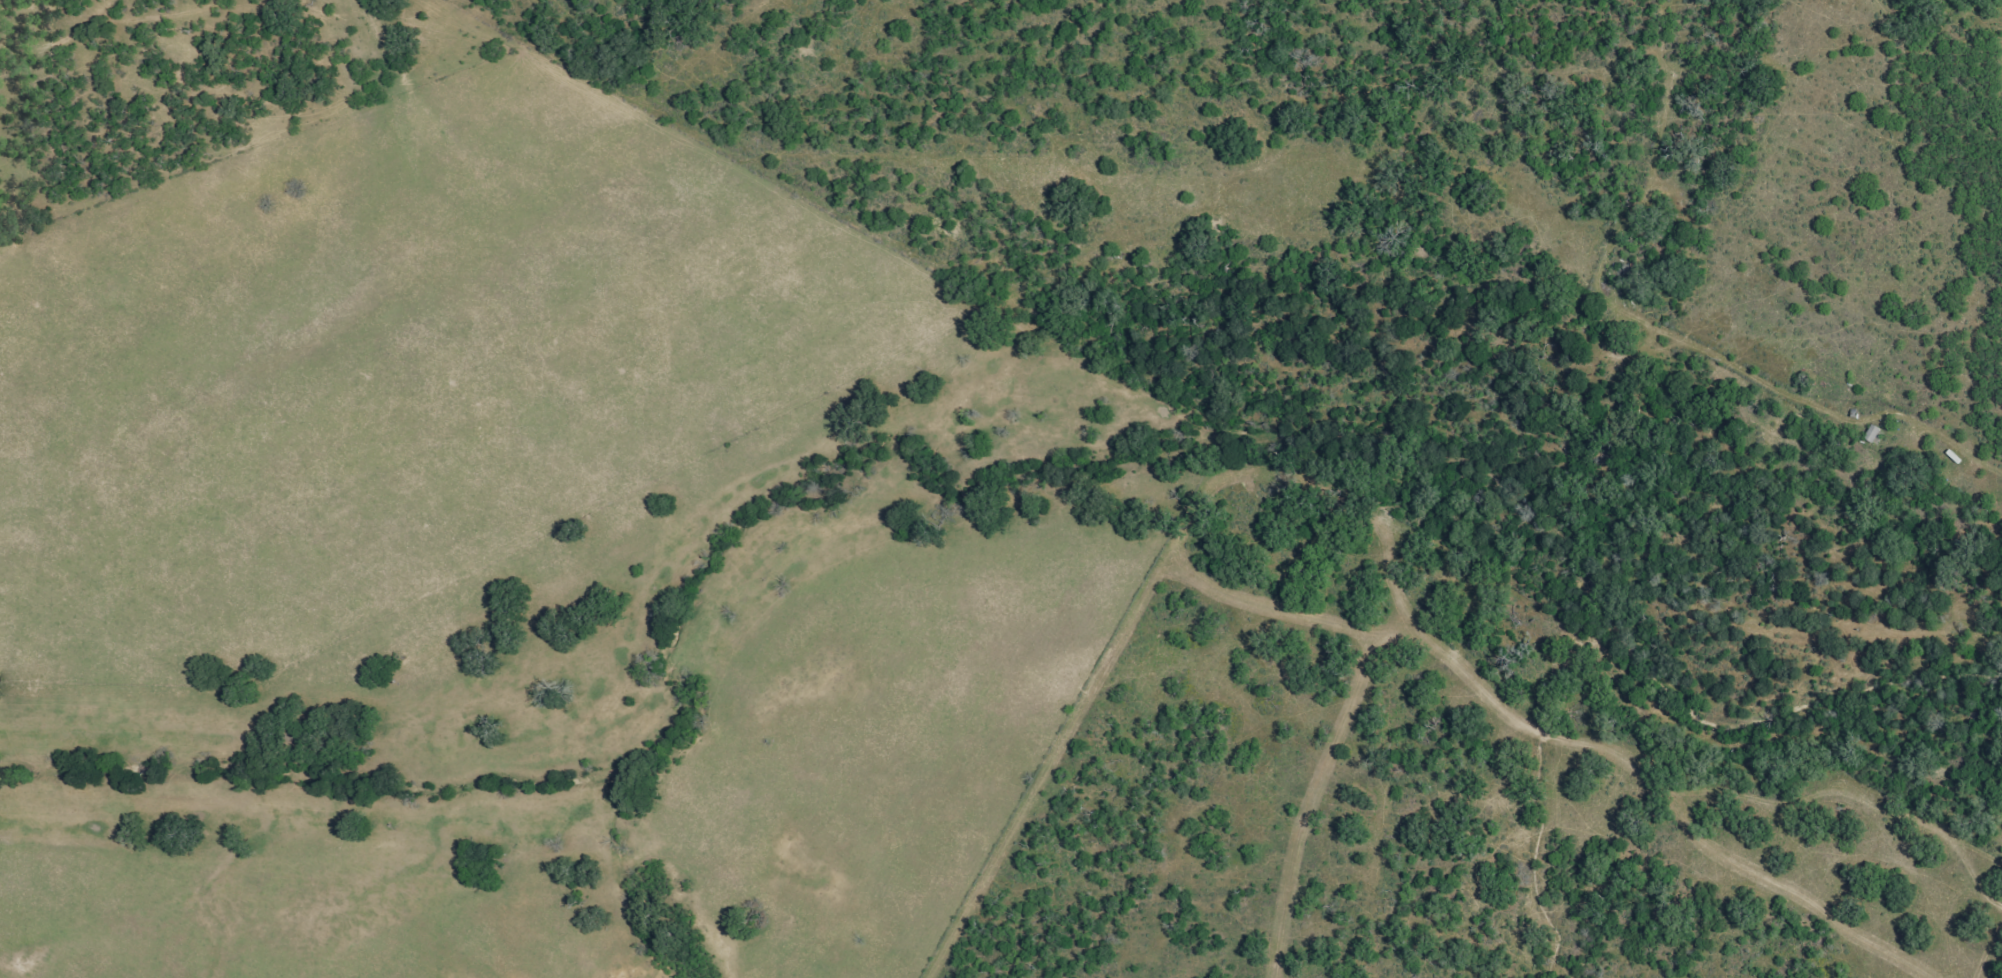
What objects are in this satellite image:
road: (1944, 264)
building: (1871, 432)

